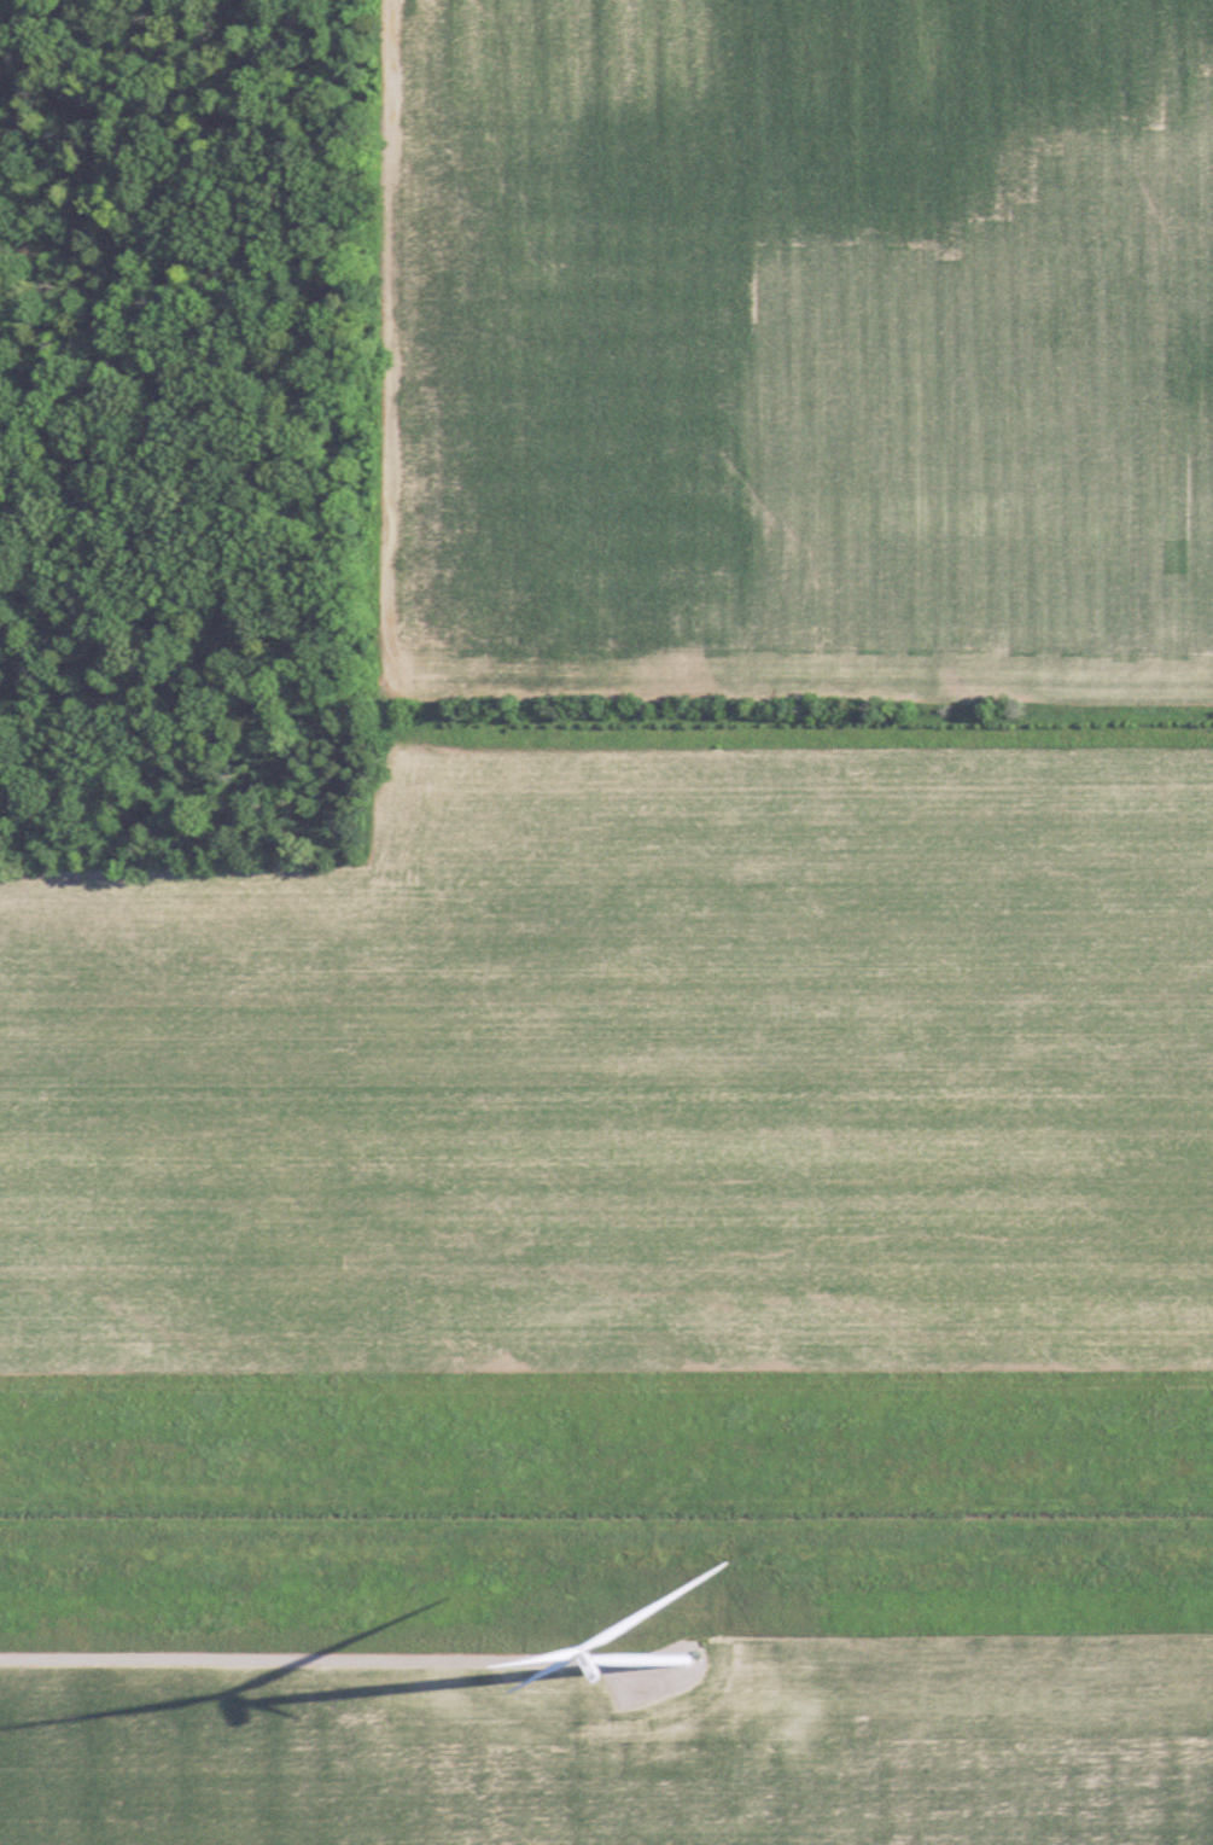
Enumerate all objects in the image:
wind turbine: (666, 1636)
road: (299, 1668)

